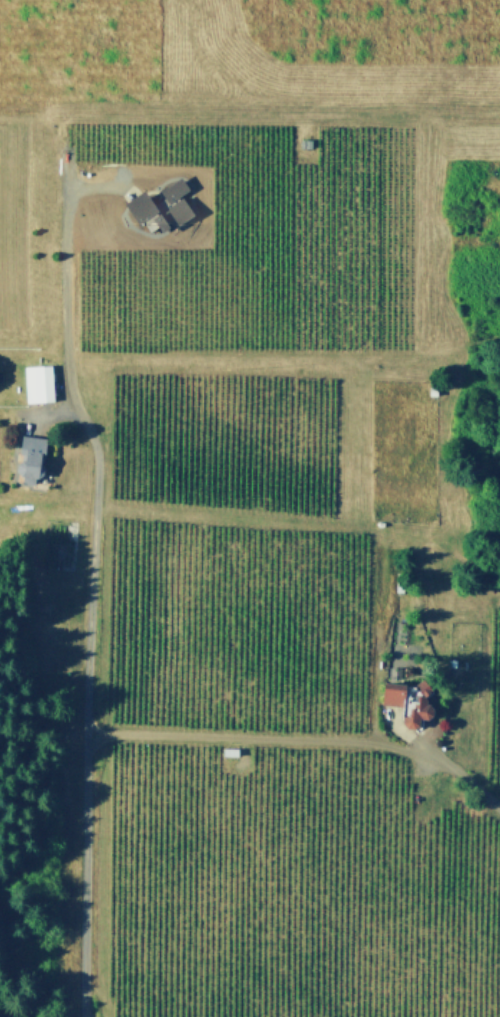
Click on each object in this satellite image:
road: (305, 113)
building: (310, 142)
building: (156, 207)
crop: (214, 236)
road: (66, 308)
building: (42, 383)
building: (437, 388)
crop: (220, 439)
building: (35, 457)
building: (385, 524)
road: (94, 553)
building: (404, 582)
crop: (232, 624)
building: (456, 662)
crop: (491, 693)
building: (413, 699)
road: (301, 738)
road: (419, 740)
road: (428, 761)
road: (88, 882)
crop: (291, 888)

